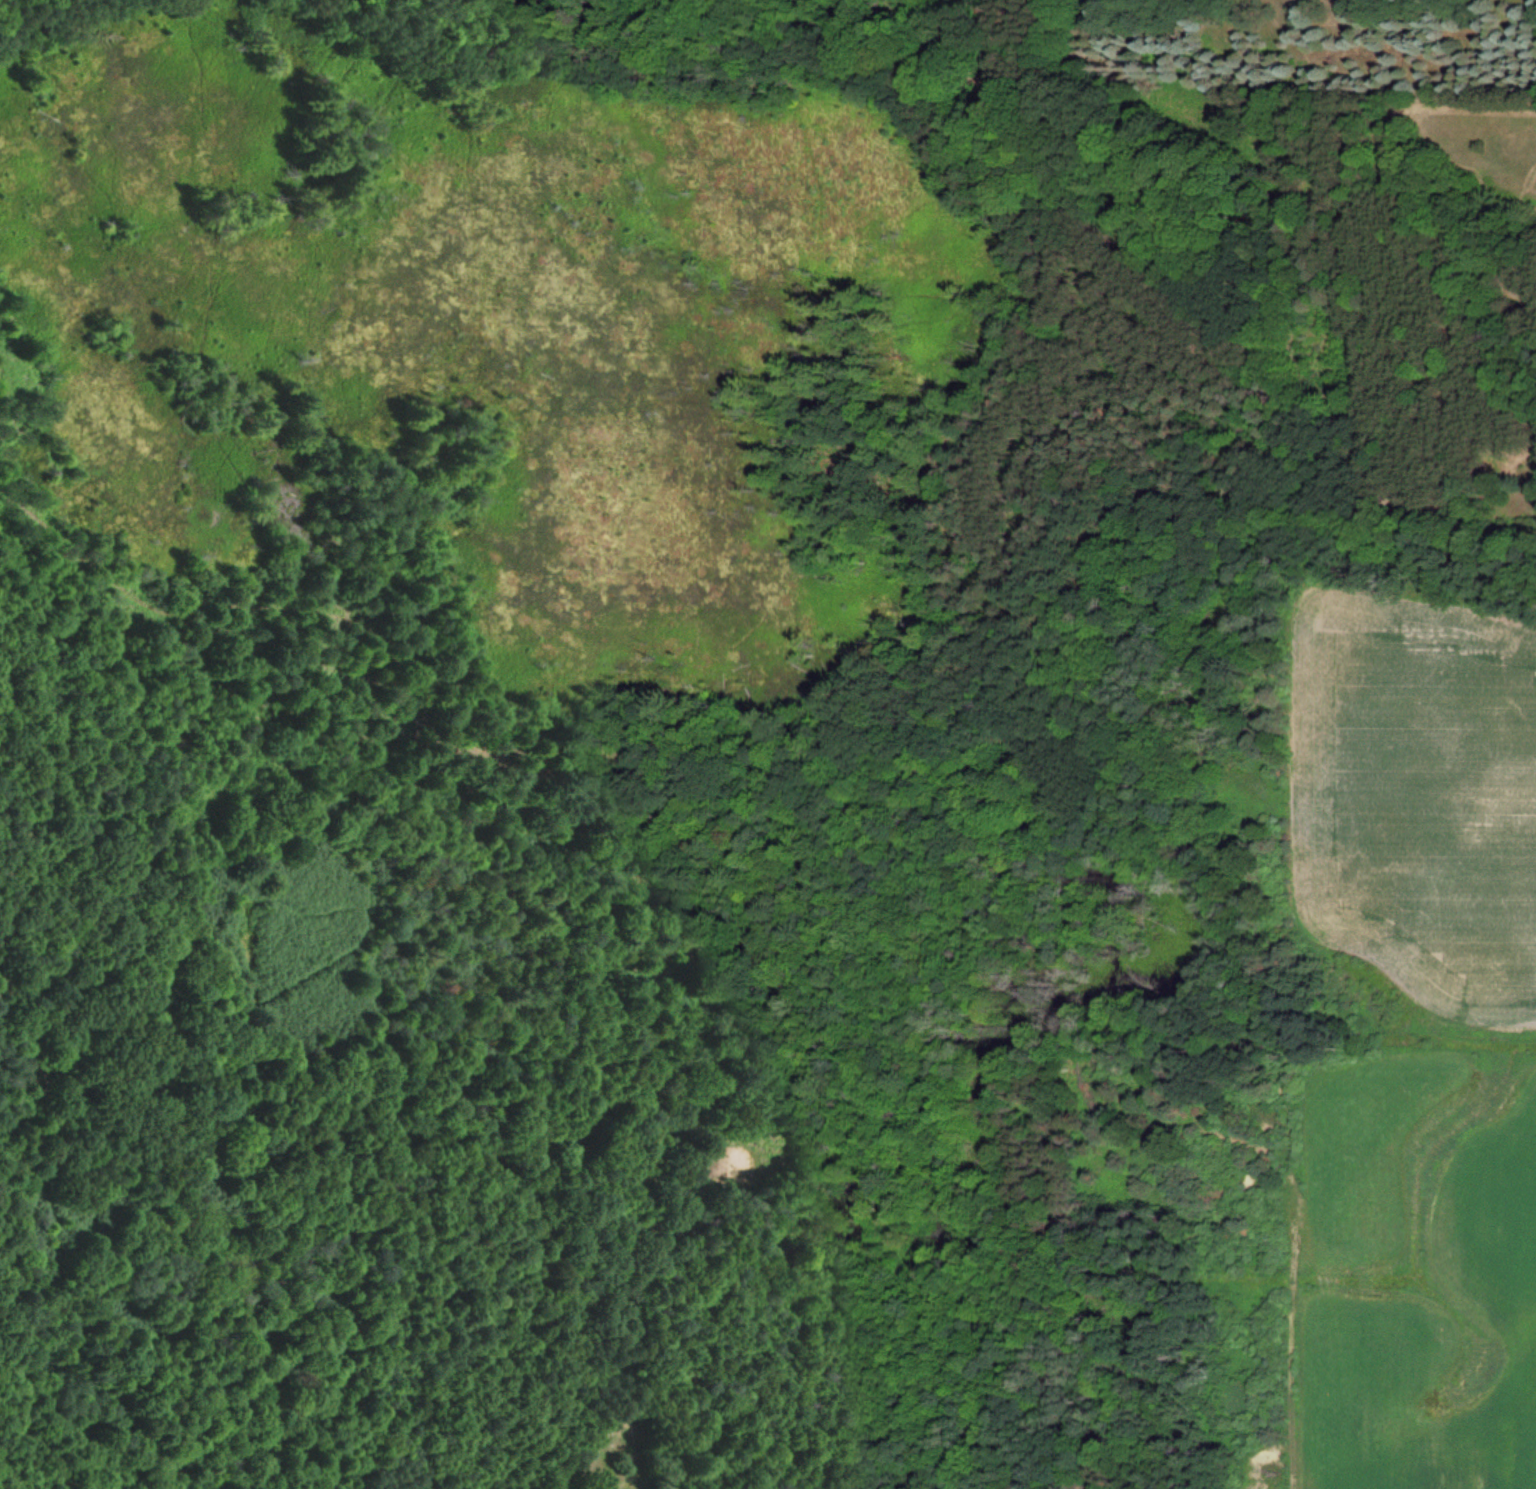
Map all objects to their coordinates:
building: (578, 1467)

